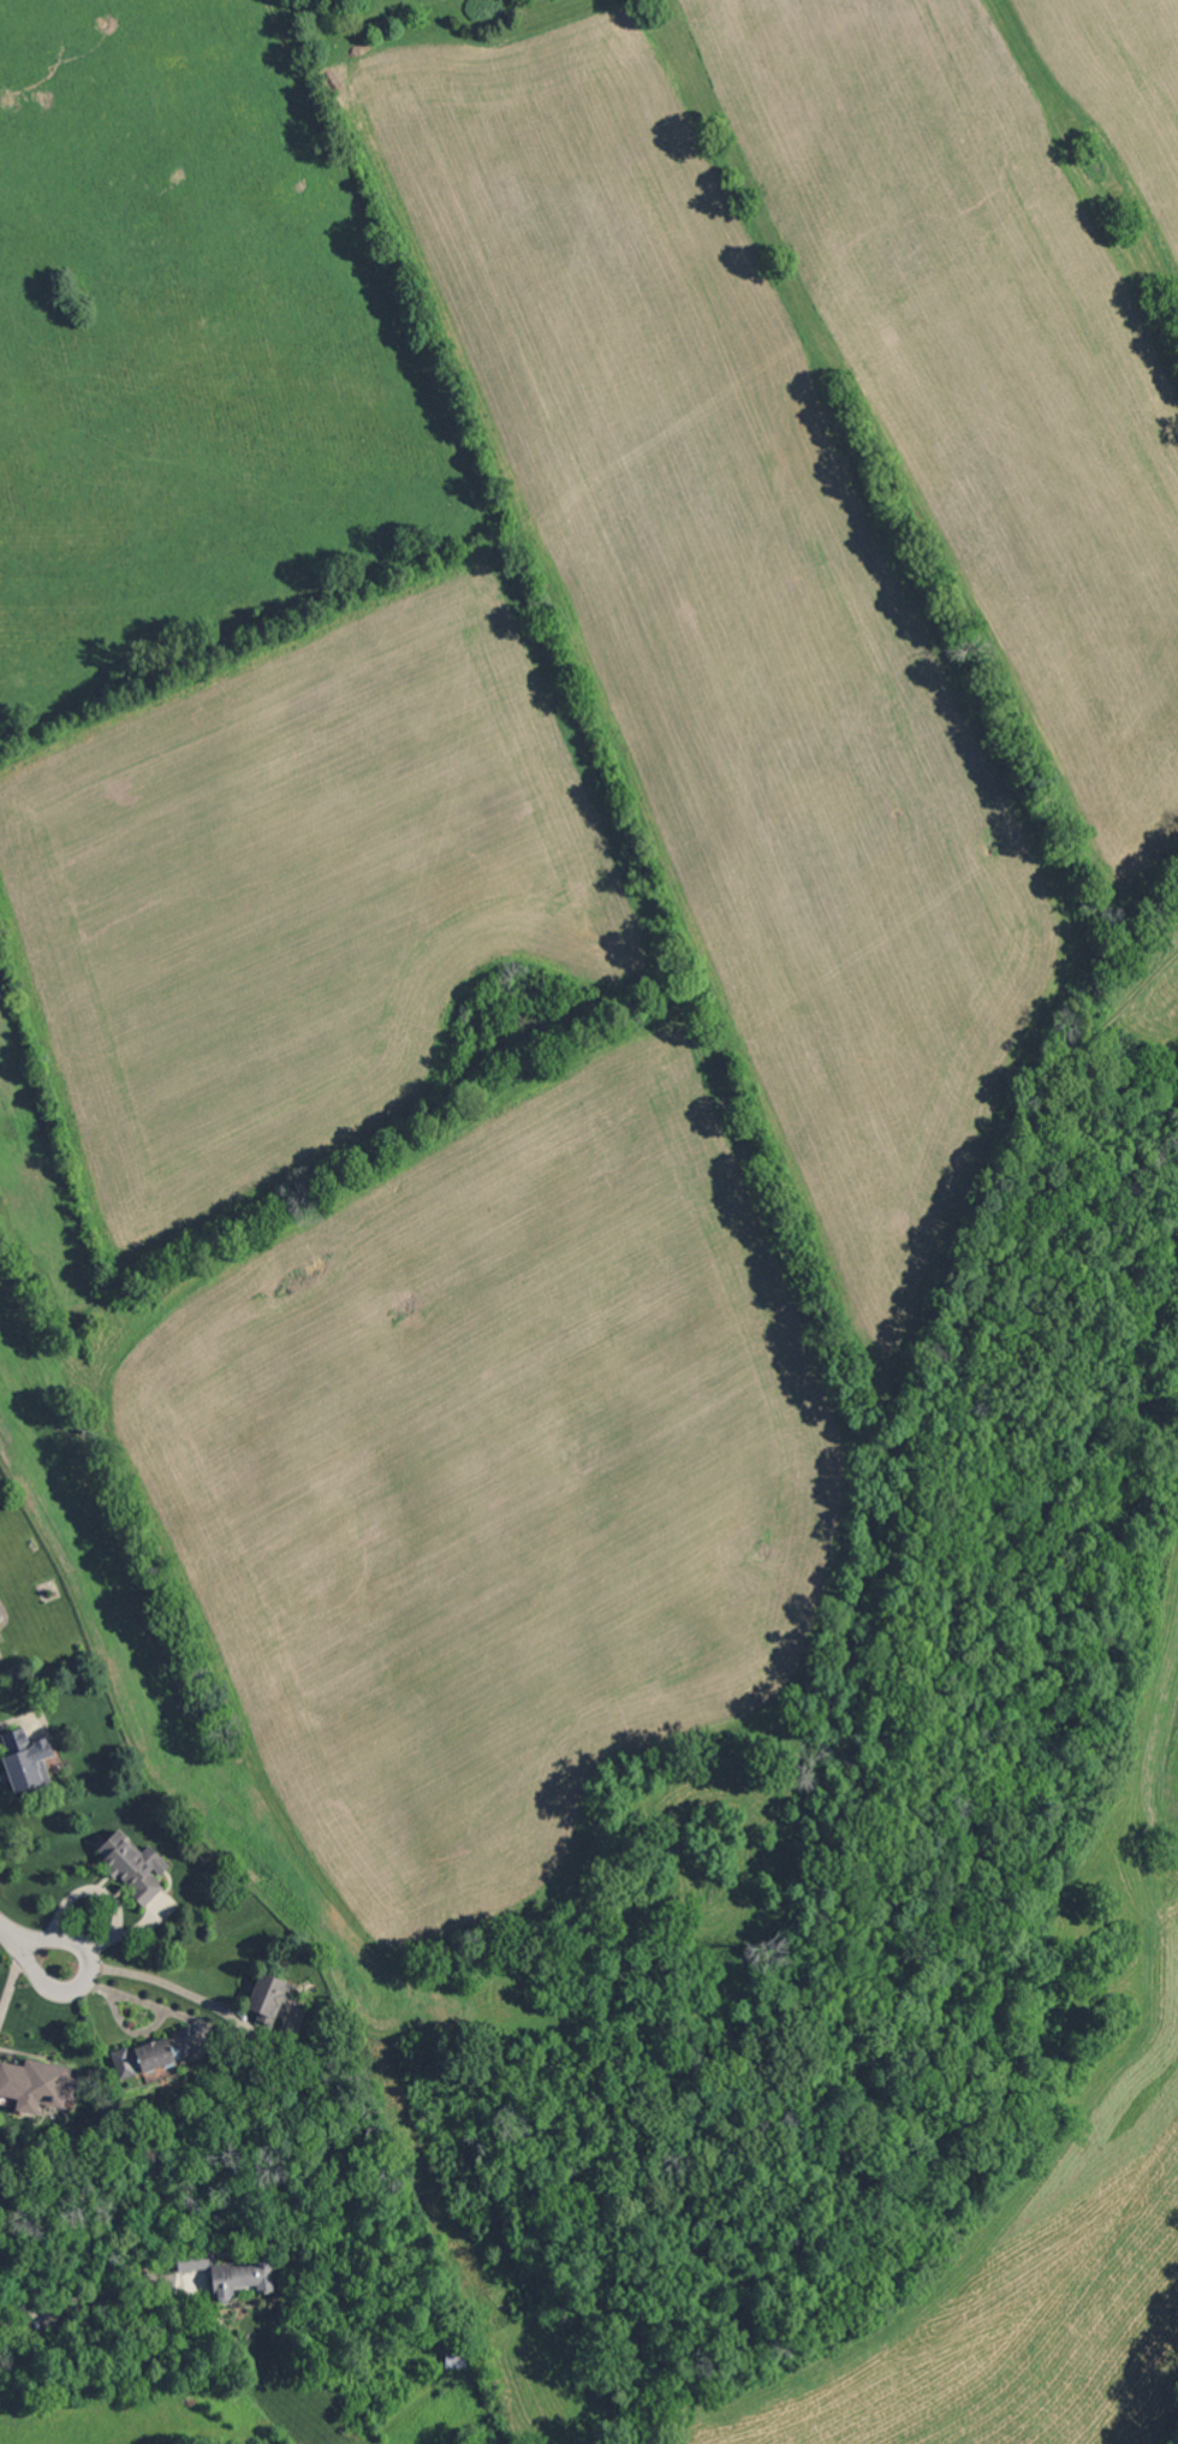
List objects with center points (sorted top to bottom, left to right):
building: (0, 1617)
road: (13, 1720)
building: (25, 1766)
building: (137, 1867)
road: (111, 1892)
road: (34, 1938)
road: (14, 1973)
road: (143, 1976)
building: (269, 1998)
road: (155, 2004)
building: (155, 2054)
building: (38, 2084)
building: (232, 2271)
road: (61, 2303)
building: (99, 2312)
building: (457, 2359)

